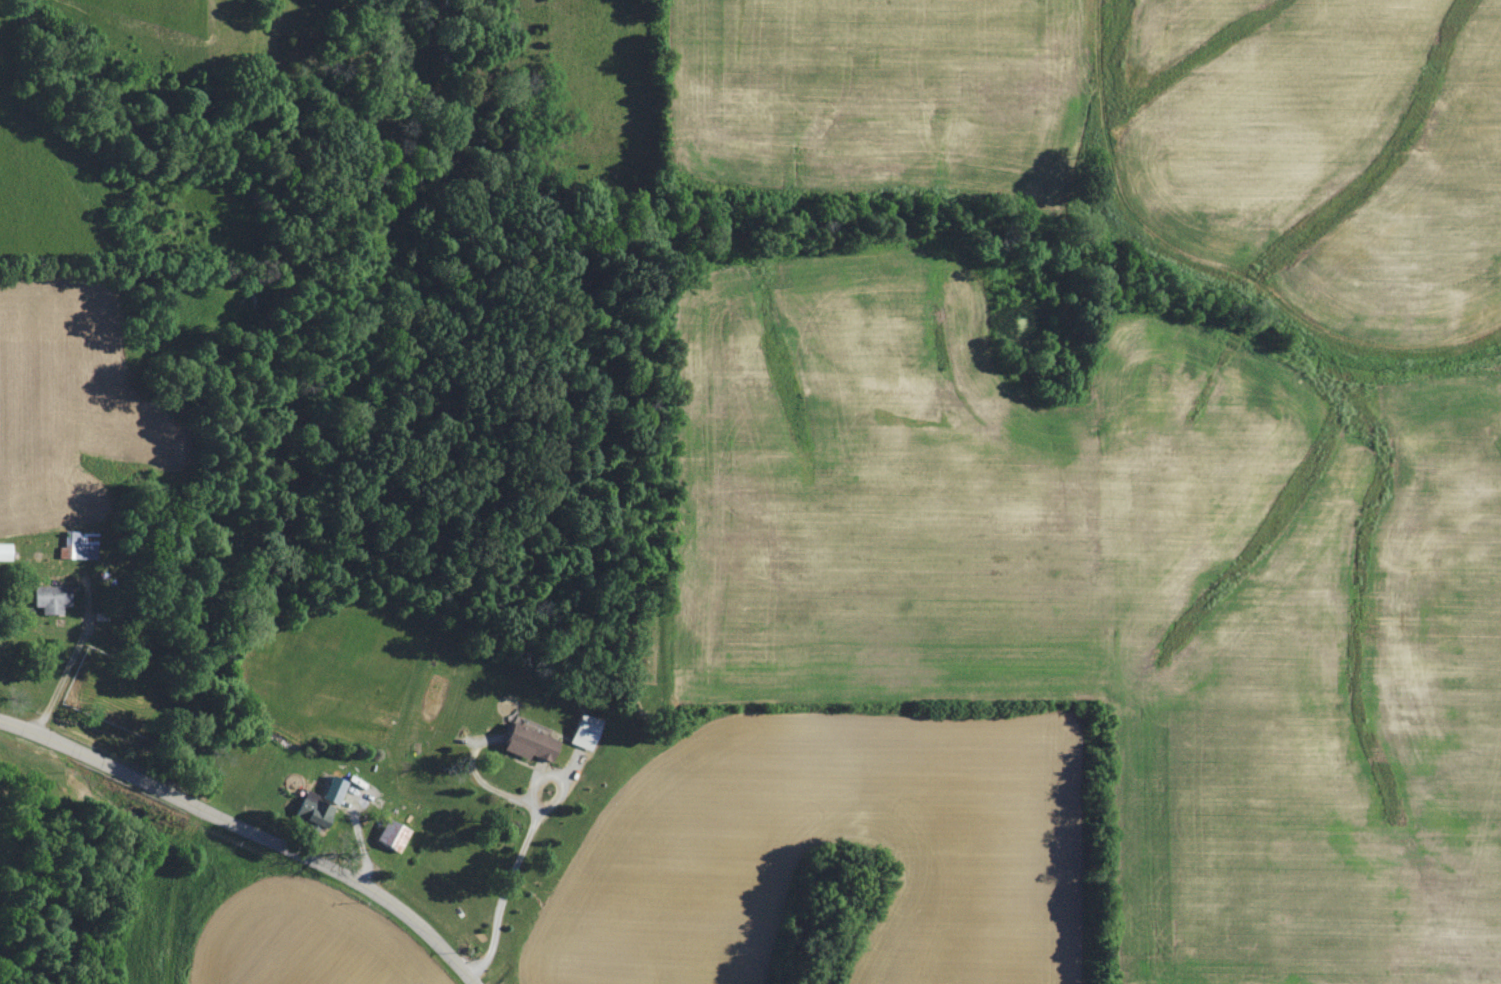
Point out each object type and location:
road: (661, 83)
building: (72, 546)
building: (5, 550)
building: (47, 597)
building: (583, 730)
building: (522, 742)
building: (329, 789)
building: (309, 809)
road: (247, 828)
building: (387, 835)

